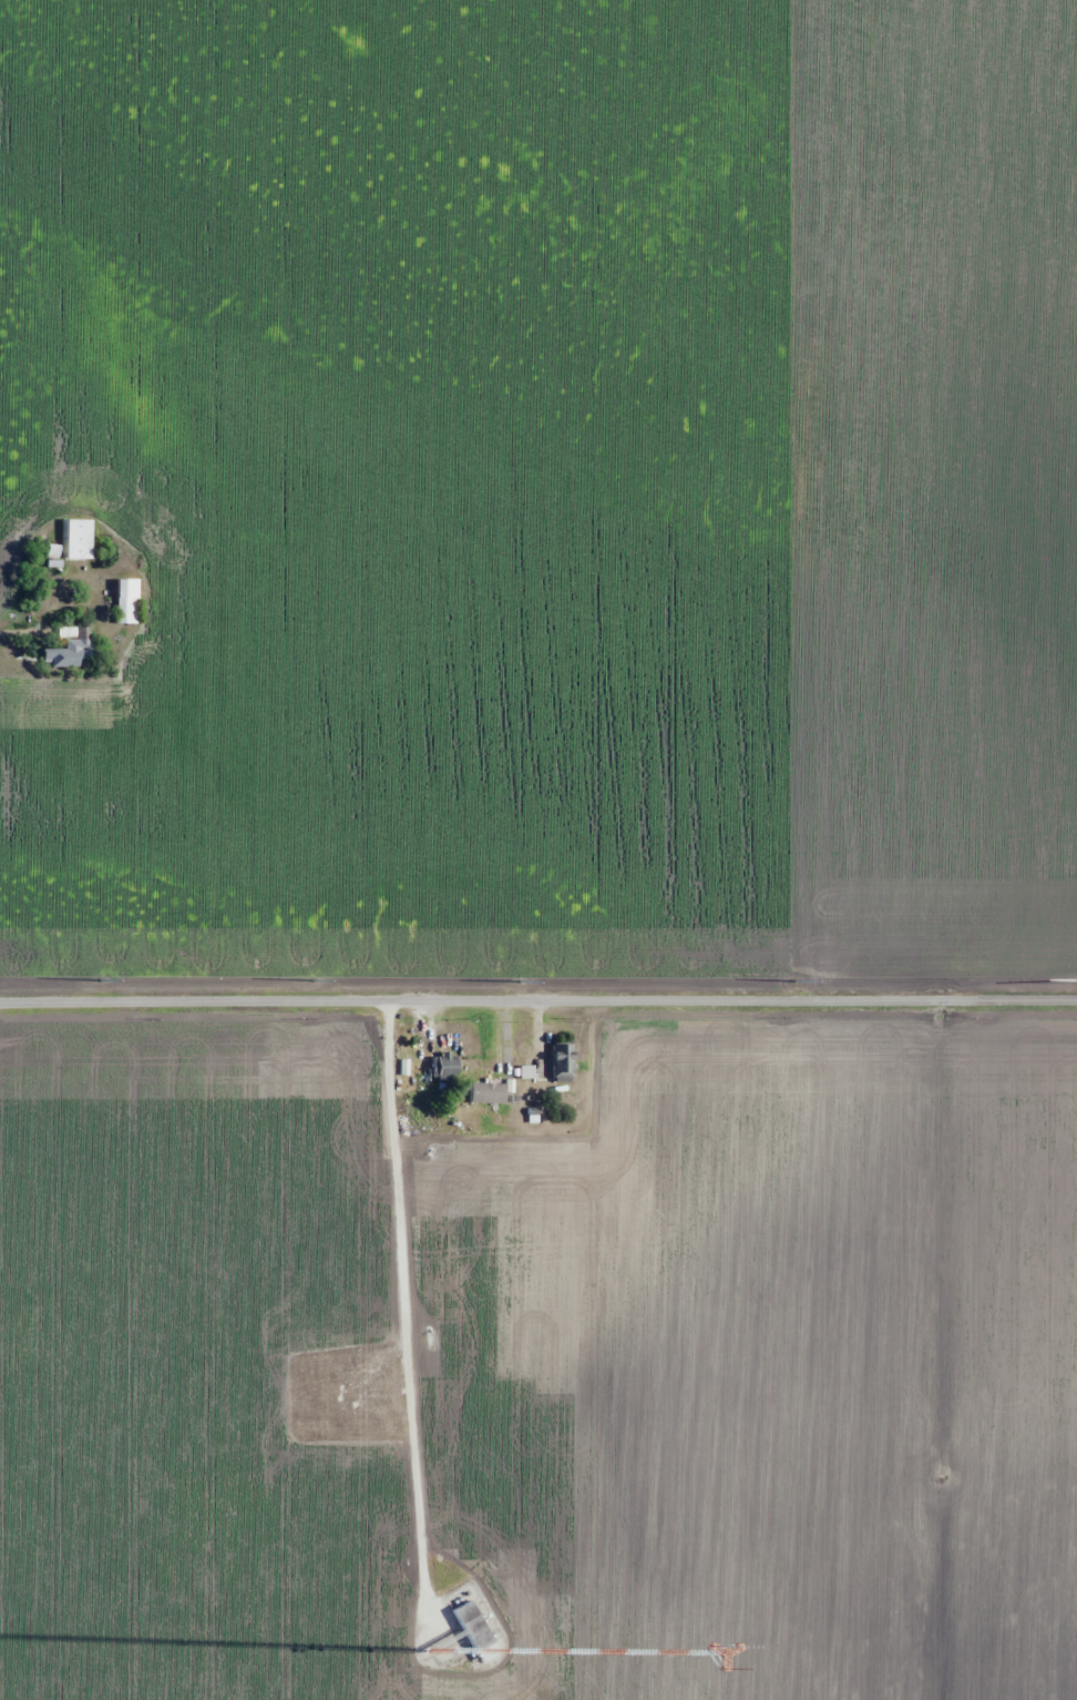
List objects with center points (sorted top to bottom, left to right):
crop: (546, 490)
building: (78, 538)
building: (125, 600)
building: (65, 645)
power tower: (103, 979)
power tower: (316, 979)
power tower: (1075, 980)
power tower: (800, 981)
power tower: (521, 983)
road: (538, 1004)
building: (557, 1060)
building: (440, 1068)
building: (515, 1071)
road: (409, 1370)
building: (468, 1631)

